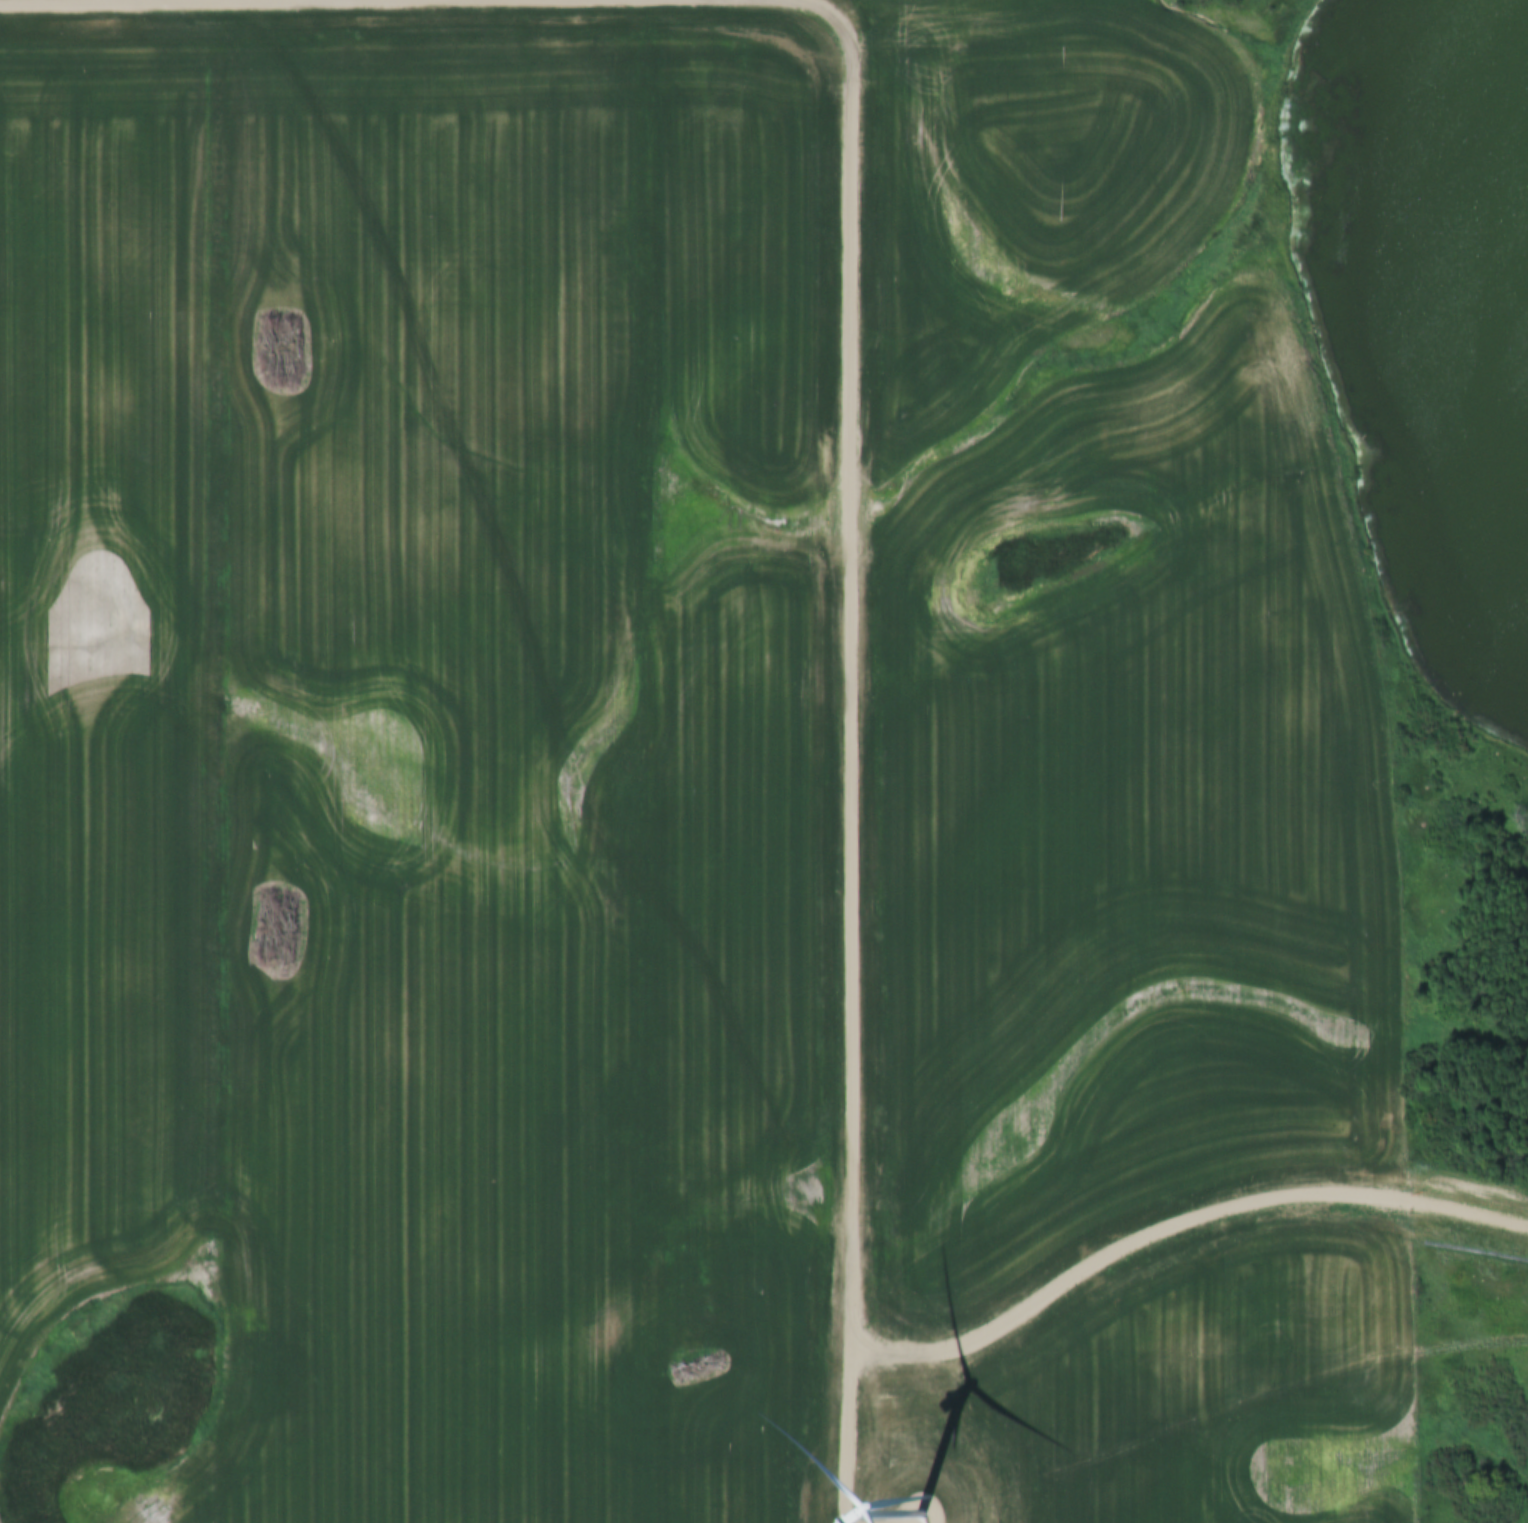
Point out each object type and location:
road: (149, 7)
road: (837, 626)
wind turbine: (914, 1522)

